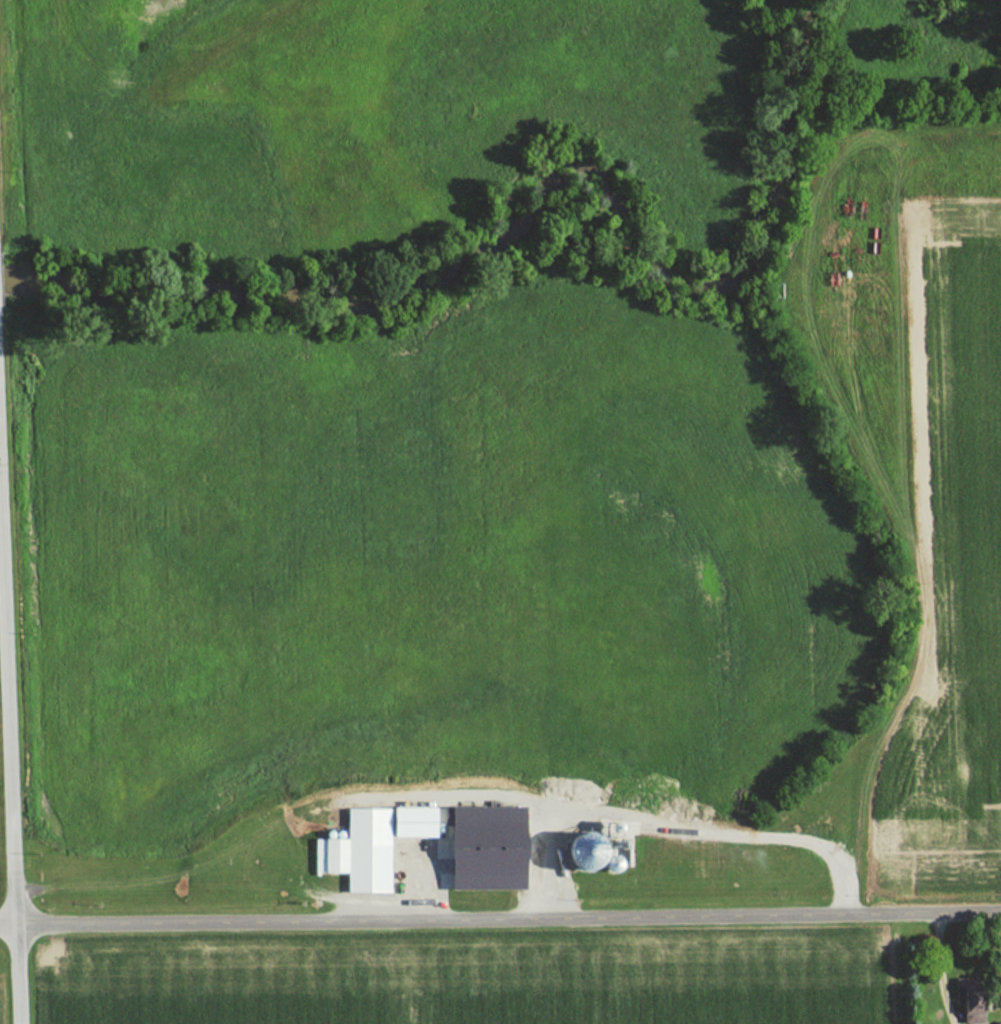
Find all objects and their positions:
road: (11, 762)
building: (365, 845)
building: (479, 847)
road: (500, 917)
building: (970, 1016)
building: (994, 1023)

